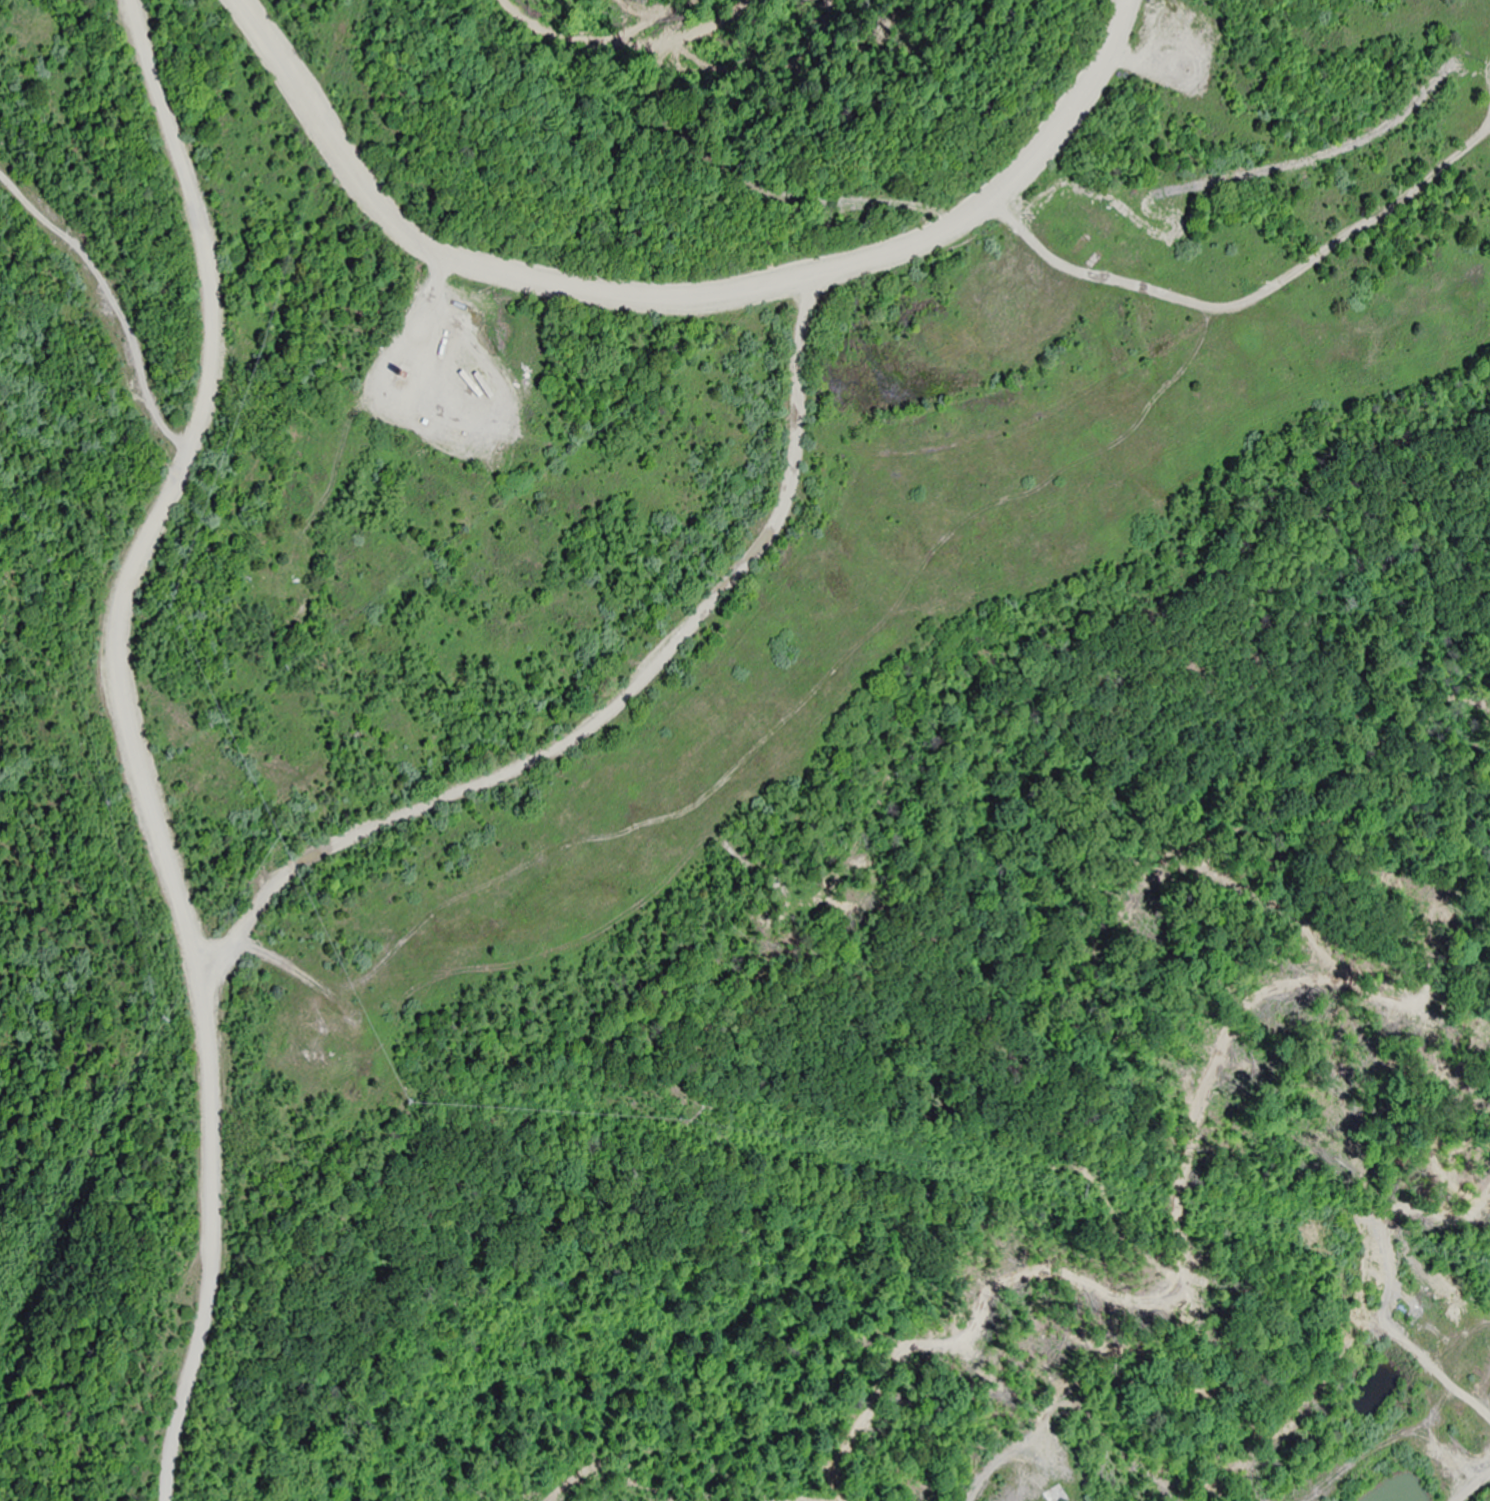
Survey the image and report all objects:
road: (1328, 1376)
building: (1046, 1494)

